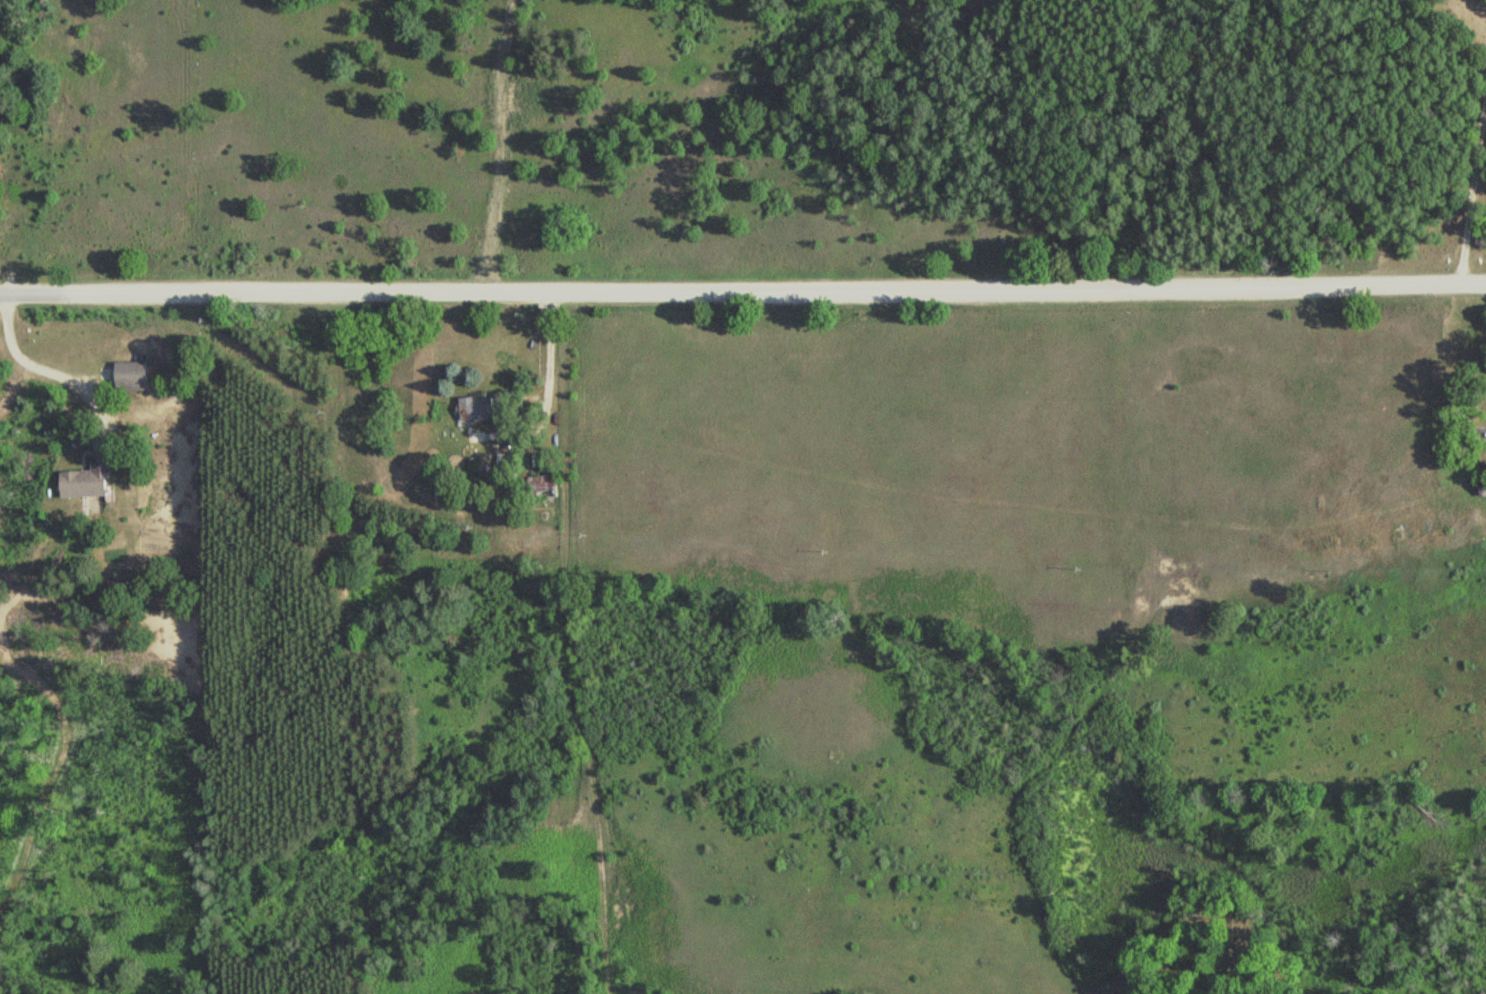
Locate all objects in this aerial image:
park: (1, 133)
road: (6, 291)
road: (749, 296)
building: (135, 375)
building: (479, 407)
building: (91, 479)
building: (551, 484)

